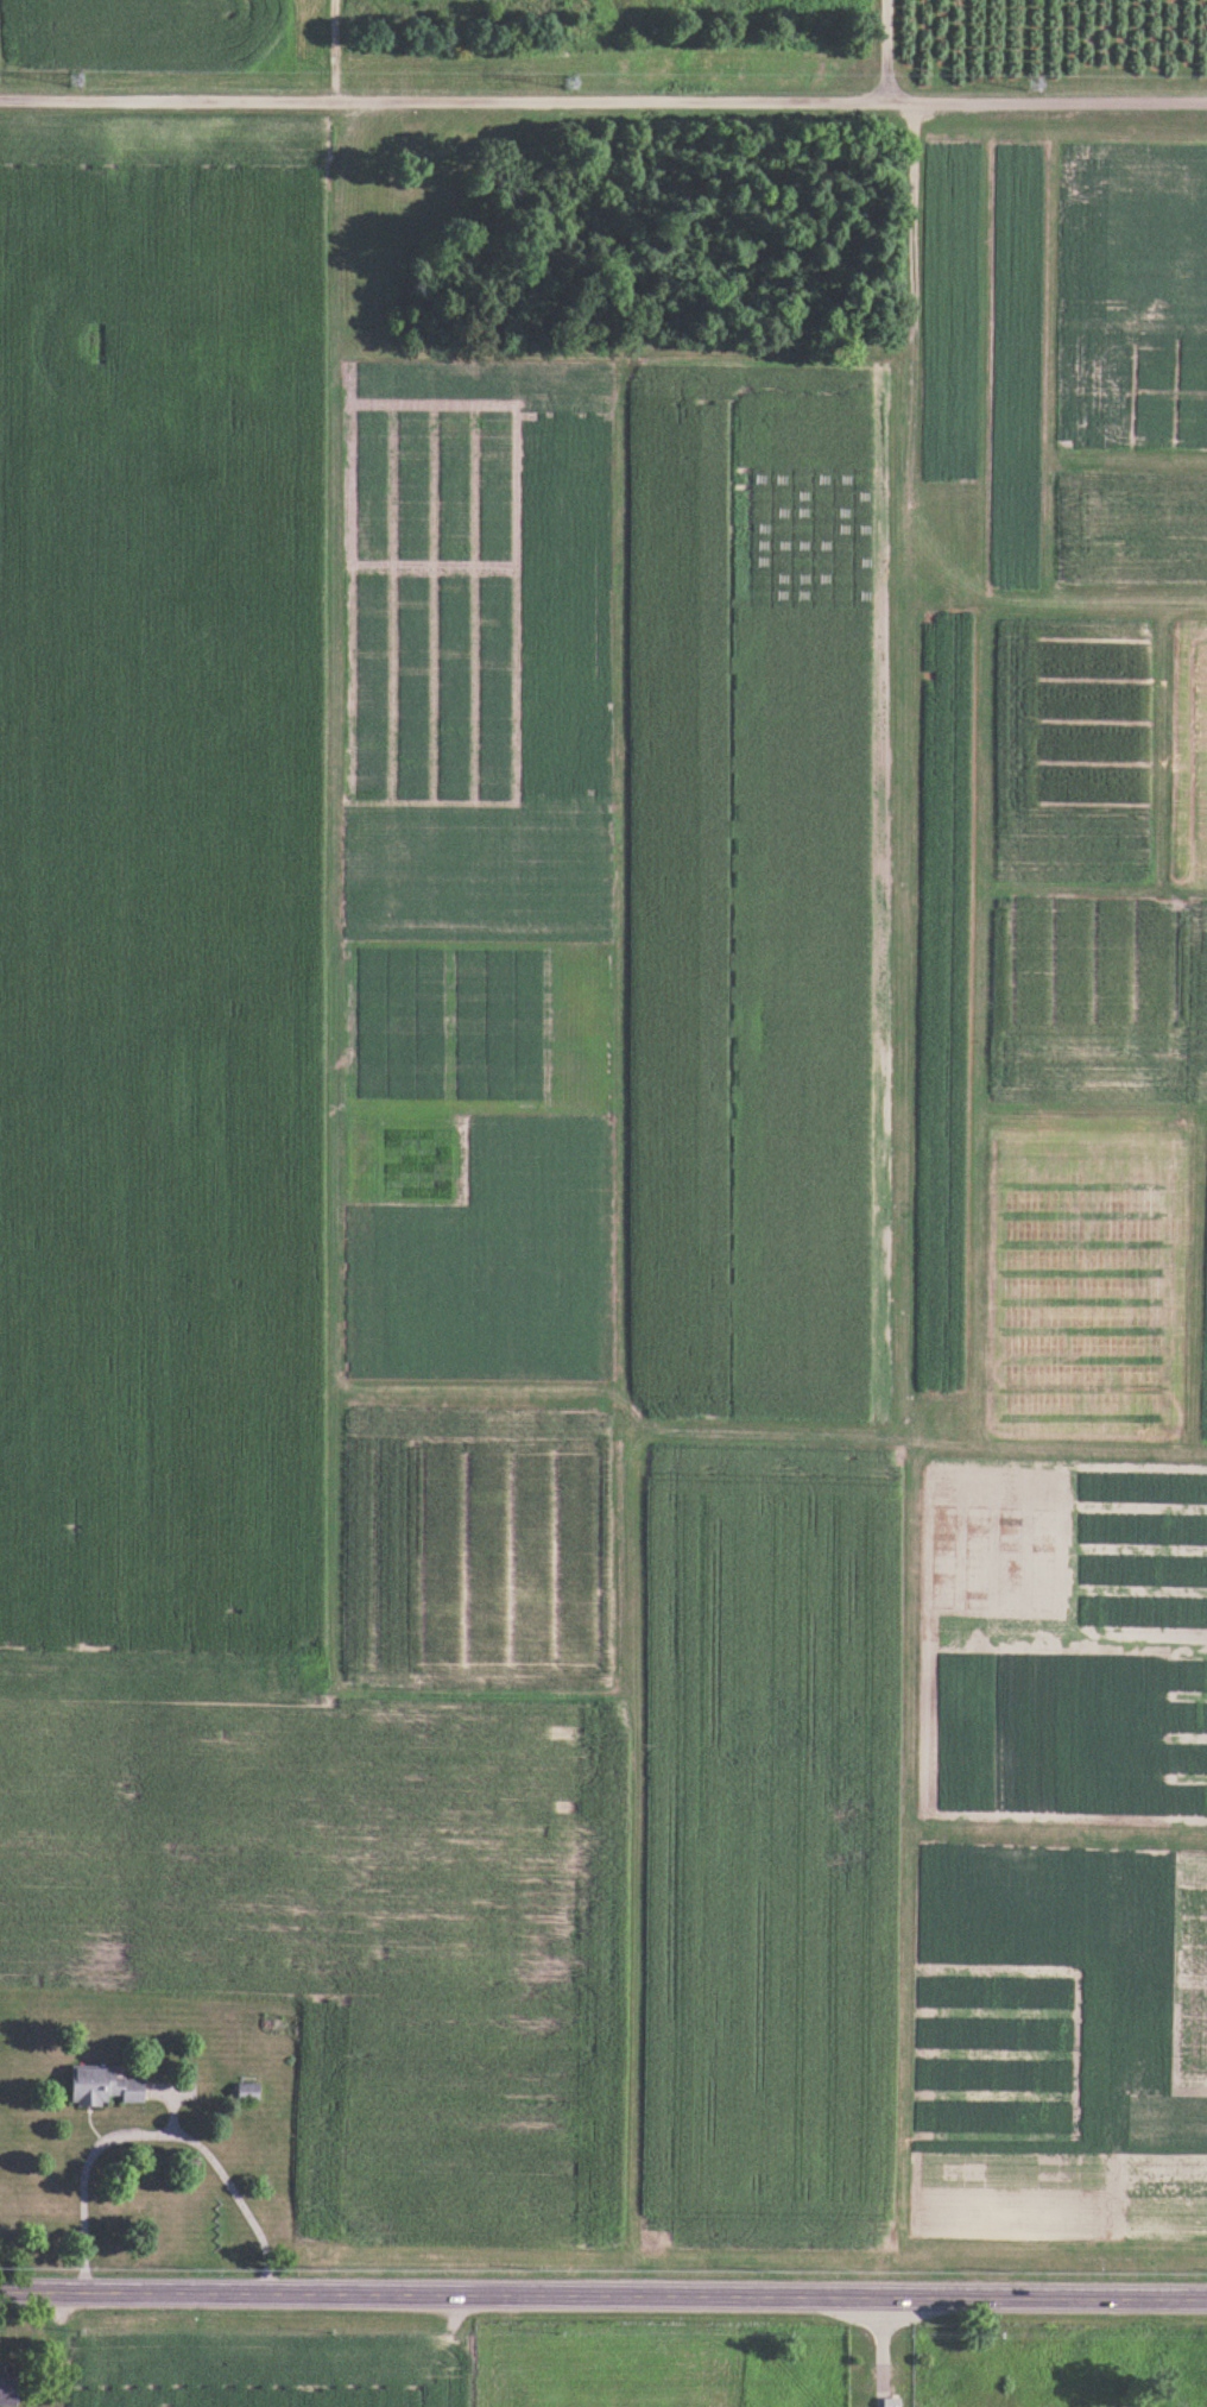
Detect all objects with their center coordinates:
crop: (140, 32)
road: (885, 50)
power tower: (76, 77)
power tower: (570, 82)
power tower: (1032, 84)
road: (603, 99)
crop: (1123, 271)
crop: (948, 310)
crop: (1015, 365)
crop: (478, 384)
crop: (1167, 392)
crop: (801, 484)
crop: (1132, 529)
crop: (432, 605)
crop: (565, 606)
crop: (1070, 748)
crop: (1187, 750)
crop: (476, 871)
crop: (675, 884)
crop: (160, 894)
crop: (1087, 996)
crop: (941, 1000)
crop: (1195, 1000)
crop: (798, 1009)
crop: (399, 1022)
crop: (500, 1026)
crop: (416, 1161)
crop: (489, 1260)
crop: (1085, 1283)
crop: (1205, 1368)
crop: (475, 1538)
crop: (998, 1548)
crop: (1138, 1548)
crop: (1068, 1733)
crop: (767, 1847)
crop: (352, 1924)
crop: (1188, 1970)
crop: (1124, 2025)
crop: (999, 2053)
building: (102, 2086)
building: (246, 2091)
road: (156, 2129)
crop: (1061, 2192)
road: (603, 2292)
building: (5, 2373)
crop: (265, 2374)
building: (7, 2392)
building: (890, 2401)

